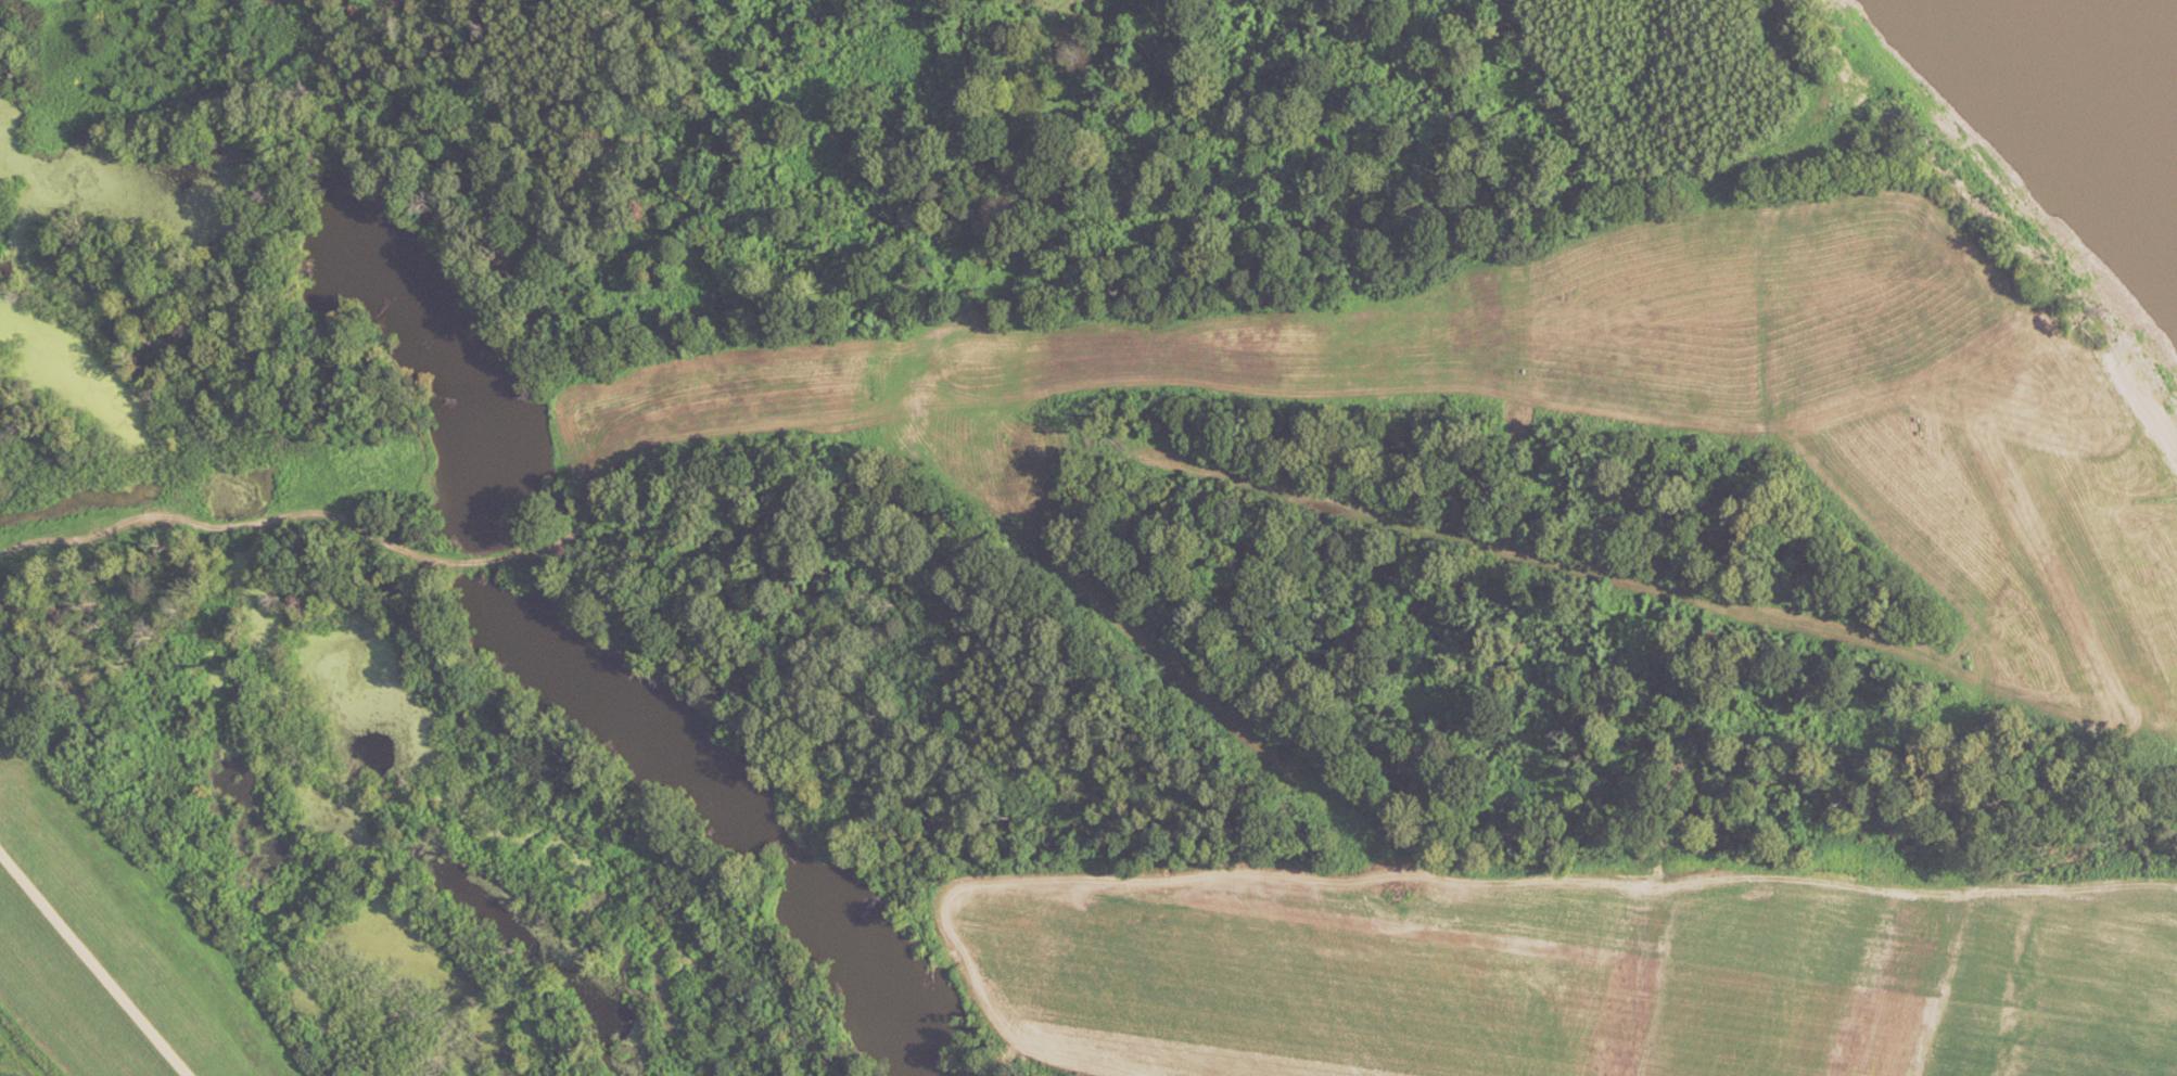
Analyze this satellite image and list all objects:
road: (145, 520)
road: (92, 964)

